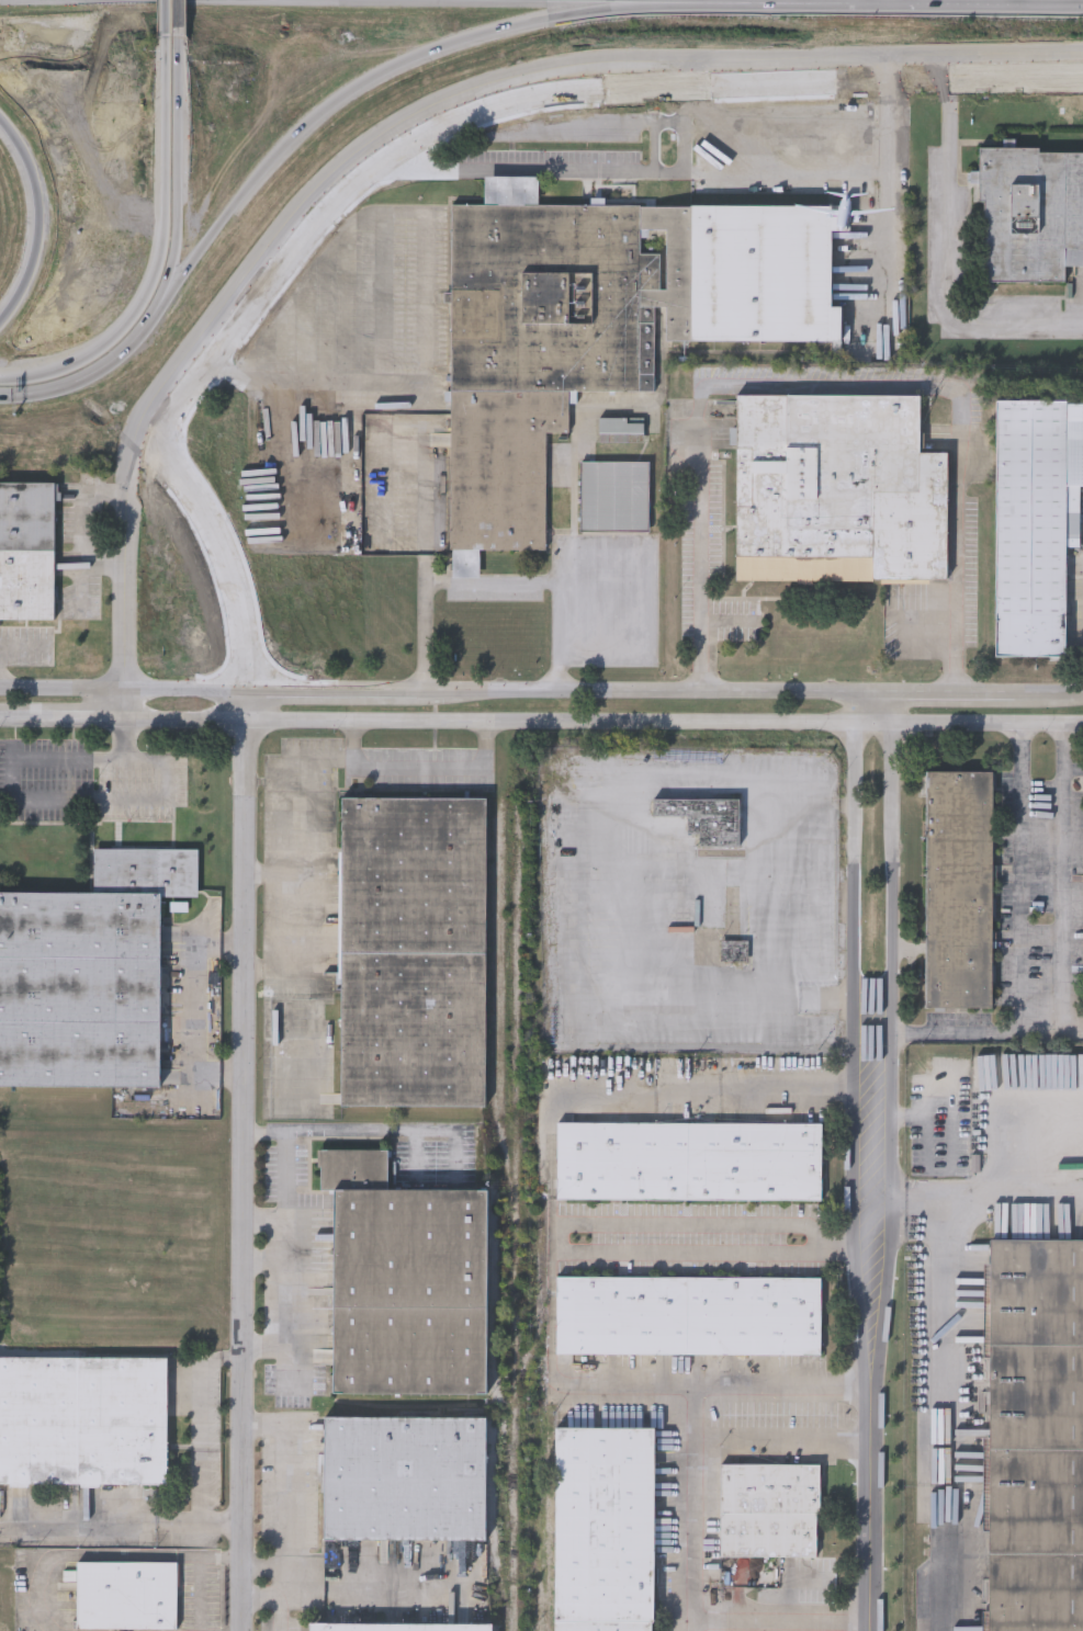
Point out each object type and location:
road: (167, 16)
road: (180, 18)
road: (514, 70)
road: (691, 121)
road: (603, 125)
road: (404, 133)
road: (663, 148)
road: (618, 171)
road: (888, 175)
building: (1030, 214)
road: (425, 223)
road: (174, 233)
road: (159, 252)
road: (948, 253)
building: (597, 325)
road: (832, 383)
road: (33, 393)
building: (620, 431)
building: (835, 490)
building: (613, 497)
building: (1034, 523)
road: (91, 528)
building: (26, 552)
road: (442, 584)
road: (563, 622)
road: (22, 643)
road: (541, 693)
road: (420, 764)
road: (31, 800)
building: (718, 823)
road: (284, 842)
road: (896, 850)
road: (854, 851)
road: (270, 874)
building: (957, 890)
road: (1063, 899)
road: (1019, 950)
building: (411, 951)
road: (771, 967)
road: (270, 969)
building: (88, 973)
road: (200, 1008)
road: (253, 1016)
road: (719, 1090)
road: (336, 1132)
building: (688, 1162)
road: (286, 1178)
road: (700, 1223)
road: (273, 1228)
road: (707, 1251)
building: (404, 1281)
road: (273, 1307)
building: (687, 1314)
road: (873, 1317)
road: (227, 1357)
road: (945, 1383)
road: (691, 1411)
building: (82, 1419)
building: (1035, 1435)
road: (202, 1442)
road: (782, 1443)
building: (403, 1476)
road: (293, 1483)
building: (768, 1509)
road: (131, 1527)
building: (602, 1527)
road: (283, 1574)
road: (381, 1588)
building: (126, 1594)
road: (266, 1595)
road: (279, 1612)
road: (778, 1621)
building: (398, 1626)

